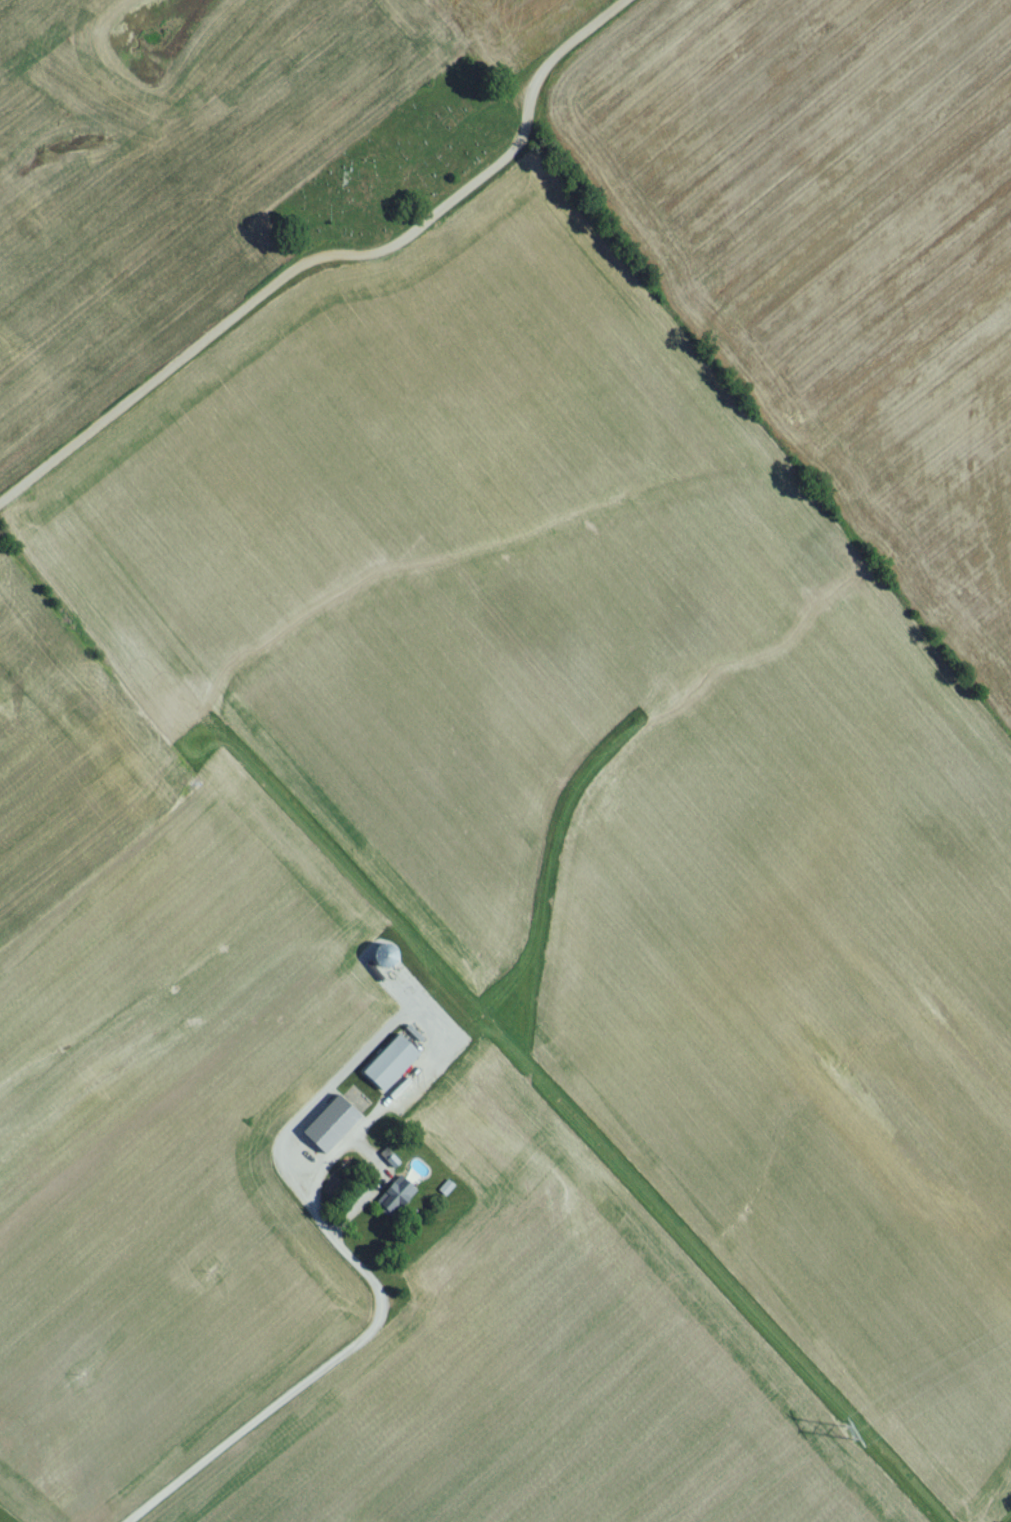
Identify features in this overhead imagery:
park: (403, 168)
road: (334, 260)
building: (385, 1068)
building: (334, 1125)
building: (391, 1202)
road: (318, 1372)
power tower: (848, 1438)

